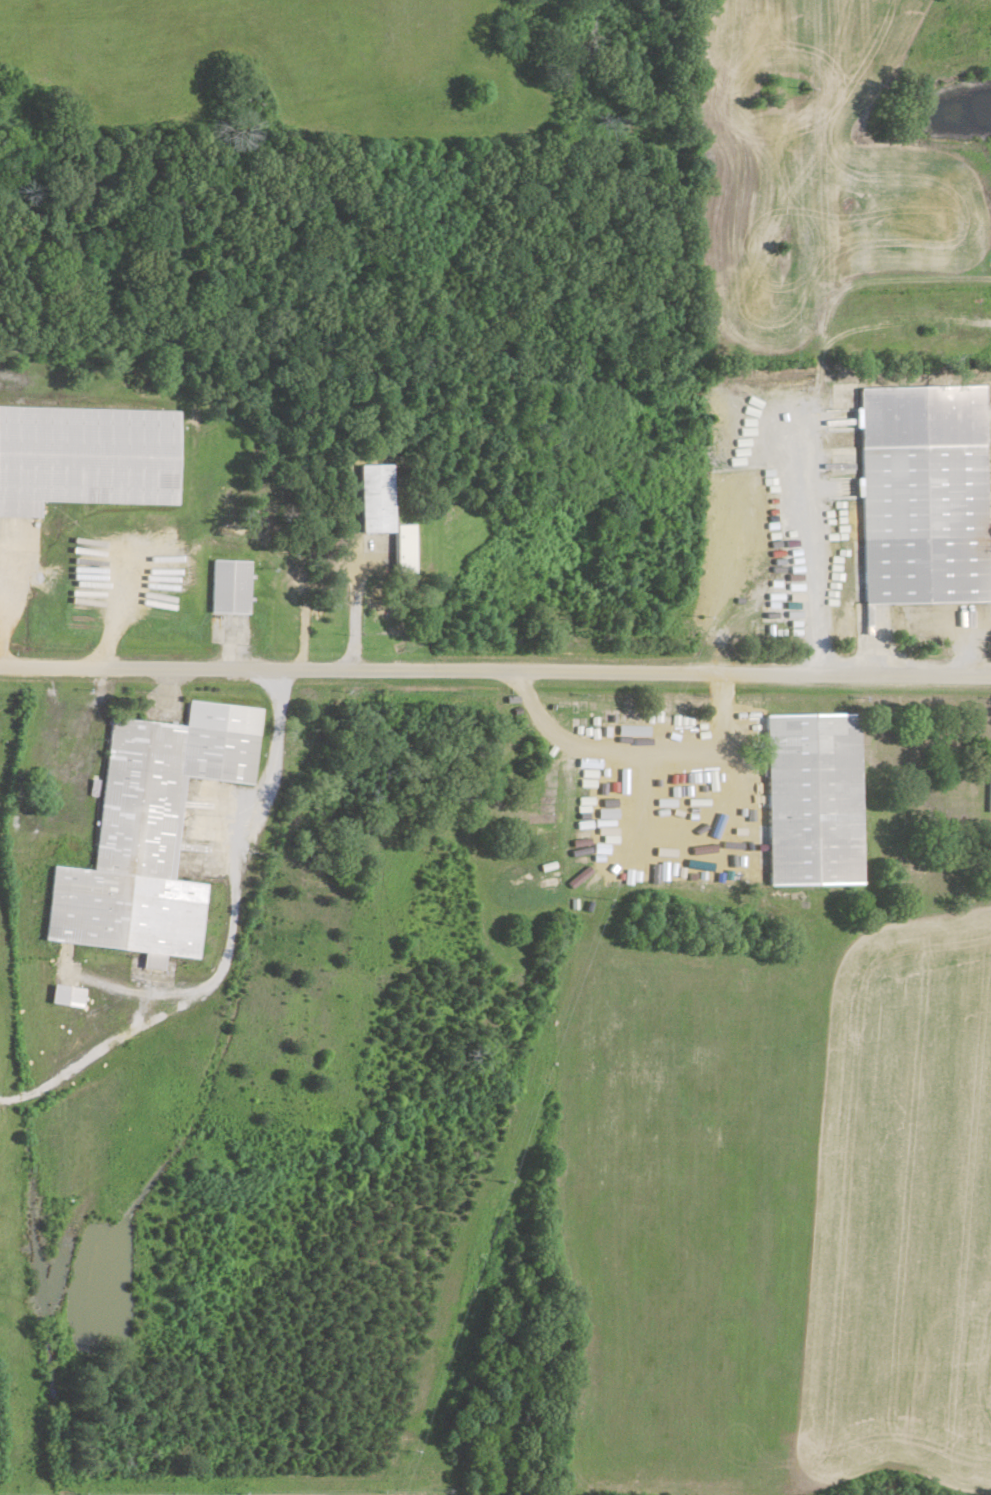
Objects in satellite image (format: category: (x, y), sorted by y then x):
building: (86, 455)
building: (923, 492)
building: (383, 514)
building: (230, 585)
road: (495, 667)
building: (989, 786)
building: (812, 797)
building: (150, 830)
building: (66, 993)

